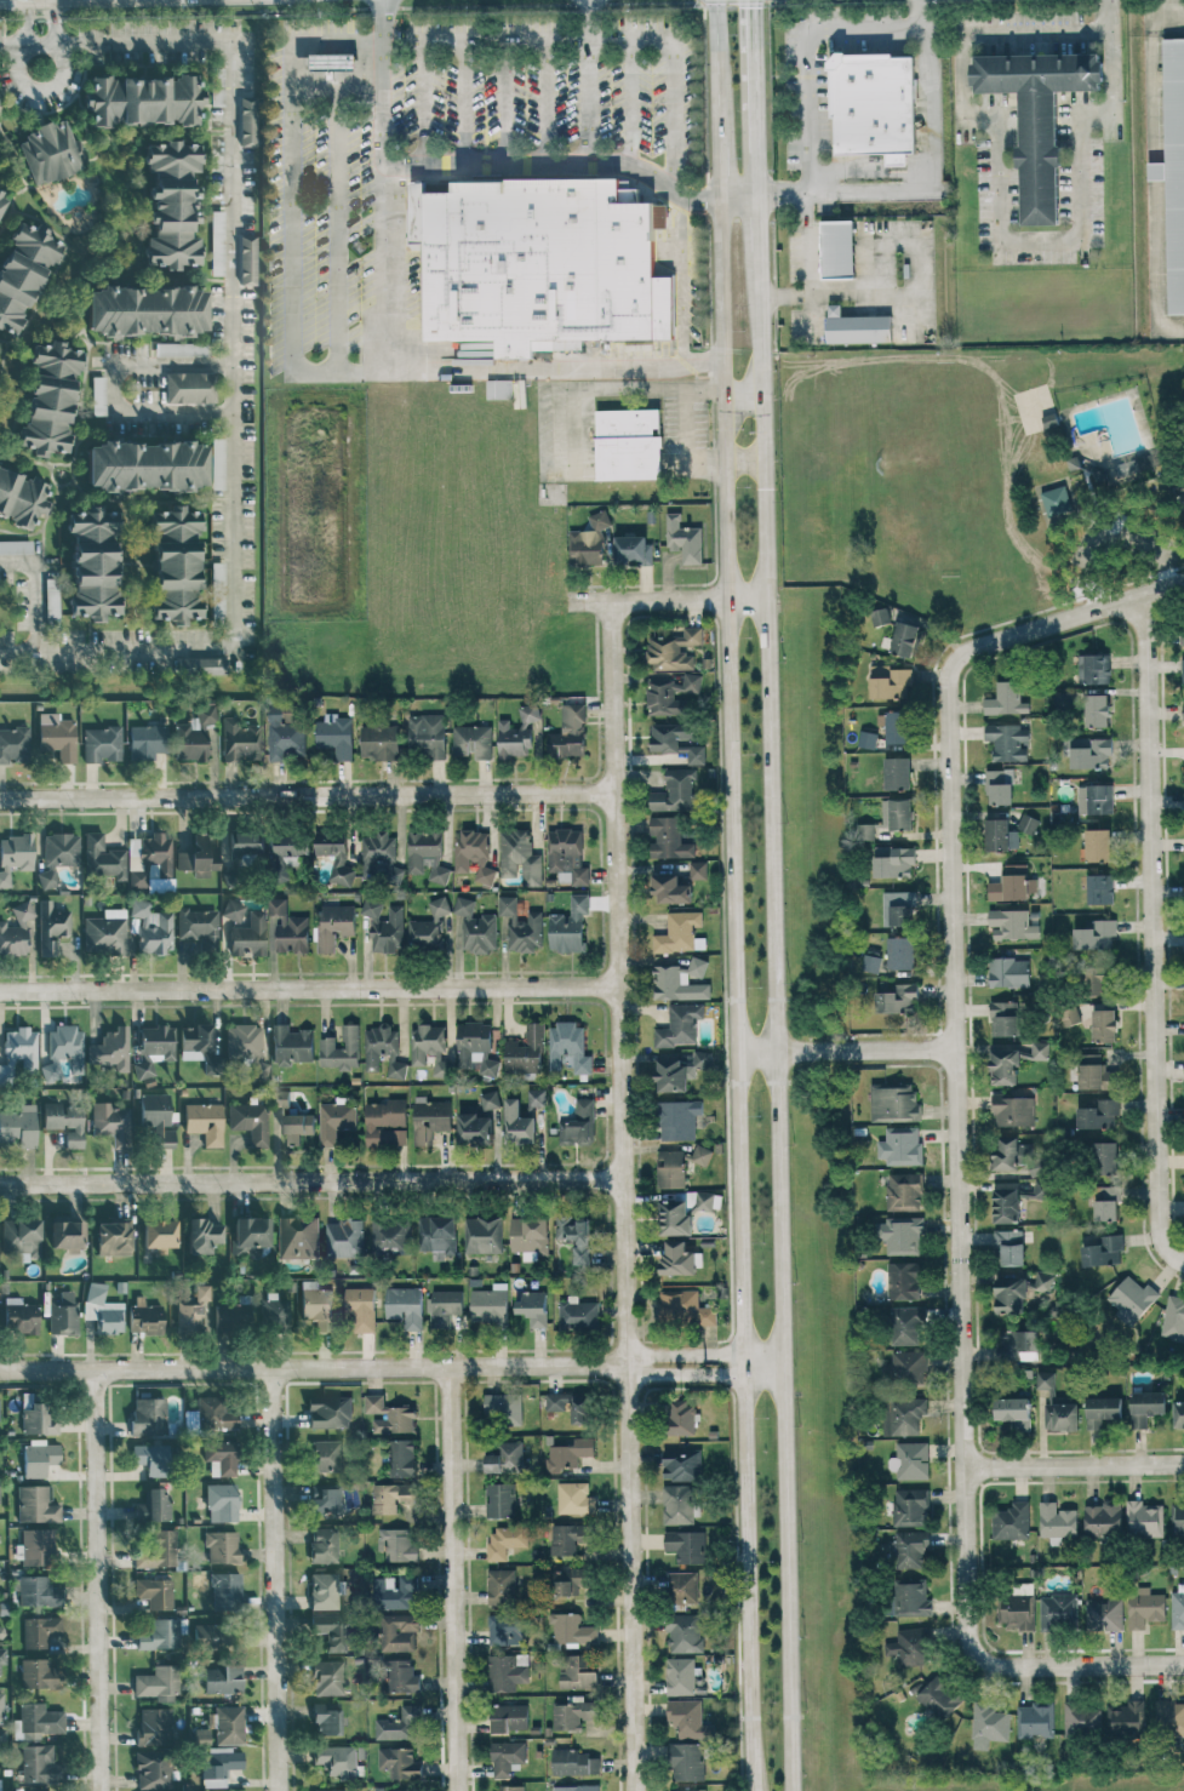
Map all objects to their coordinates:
road: (39, 2)
traffic signals: (751, 5)
road: (46, 8)
road: (32, 10)
road: (1108, 11)
road: (1168, 18)
road: (24, 29)
road: (55, 29)
road: (12, 45)
road: (808, 56)
building: (333, 61)
gas station: (333, 61)
road: (16, 62)
building: (1041, 73)
building: (218, 86)
road: (336, 90)
parking lot: (488, 90)
road: (753, 93)
building: (142, 99)
building: (876, 107)
building: (248, 120)
building: (50, 150)
building: (1042, 162)
road: (485, 167)
building: (1173, 170)
road: (927, 174)
road: (653, 185)
road: (737, 189)
building: (1, 196)
building: (172, 204)
road: (290, 218)
road: (754, 219)
road: (996, 223)
building: (217, 242)
building: (841, 250)
building: (247, 259)
road: (811, 264)
building: (514, 265)
building: (23, 270)
road: (837, 293)
building: (147, 310)
building: (858, 331)
building: (181, 349)
road: (457, 367)
road: (231, 374)
road: (114, 385)
building: (190, 387)
building: (499, 389)
building: (98, 395)
building: (50, 397)
road: (565, 429)
building: (630, 444)
building: (1151, 459)
building: (217, 463)
building: (145, 465)
building: (1103, 477)
building: (21, 497)
building: (1056, 499)
road: (1122, 528)
building: (683, 538)
building: (588, 542)
building: (16, 547)
building: (633, 549)
building: (93, 561)
building: (176, 565)
building: (218, 589)
road: (36, 590)
building: (51, 599)
road: (664, 600)
building: (881, 614)
road: (1068, 618)
building: (1182, 635)
building: (906, 639)
building: (673, 647)
building: (202, 665)
building: (1094, 668)
building: (1183, 676)
building: (690, 682)
building: (891, 683)
building: (664, 697)
building: (1006, 699)
building: (1063, 699)
building: (1097, 710)
building: (896, 726)
building: (285, 731)
building: (519, 732)
building: (570, 732)
building: (57, 734)
building: (194, 734)
building: (336, 734)
building: (427, 734)
building: (240, 739)
building: (677, 739)
building: (868, 739)
building: (471, 740)
building: (1008, 740)
building: (147, 742)
building: (379, 742)
building: (13, 744)
building: (102, 744)
building: (1091, 751)
building: (897, 772)
building: (1000, 786)
building: (675, 791)
building: (1183, 795)
road: (307, 796)
building: (1096, 799)
building: (897, 813)
building: (1028, 824)
building: (865, 830)
building: (1001, 835)
building: (668, 837)
building: (246, 842)
building: (291, 845)
building: (1098, 845)
building: (474, 853)
building: (15, 854)
building: (199, 854)
building: (427, 854)
building: (57, 856)
building: (519, 856)
building: (567, 856)
building: (103, 857)
building: (337, 862)
building: (894, 862)
building: (698, 869)
building: (229, 879)
building: (1011, 882)
building: (1100, 888)
building: (671, 889)
road: (731, 895)
building: (899, 908)
building: (233, 910)
building: (1012, 923)
building: (334, 925)
building: (384, 925)
building: (521, 925)
building: (570, 925)
building: (51, 926)
building: (199, 926)
building: (429, 926)
building: (151, 927)
building: (473, 927)
building: (287, 928)
building: (16, 931)
building: (105, 932)
building: (677, 932)
building: (250, 934)
building: (1096, 935)
road: (1150, 937)
building: (900, 951)
building: (1008, 972)
building: (680, 980)
building: (1100, 980)
road: (309, 989)
building: (898, 999)
building: (1071, 1014)
building: (1005, 1018)
road: (777, 1020)
building: (1104, 1024)
building: (680, 1025)
building: (245, 1038)
building: (292, 1045)
building: (199, 1046)
building: (430, 1047)
building: (568, 1047)
building: (154, 1048)
building: (341, 1048)
building: (475, 1048)
building: (110, 1049)
building: (383, 1049)
building: (1040, 1049)
building: (18, 1051)
building: (63, 1051)
building: (526, 1051)
road: (845, 1051)
building: (1005, 1065)
building: (679, 1069)
building: (1094, 1072)
building: (537, 1097)
building: (281, 1099)
building: (893, 1102)
building: (1013, 1110)
building: (1099, 1114)
building: (159, 1117)
building: (430, 1117)
building: (679, 1118)
building: (336, 1120)
building: (477, 1120)
building: (65, 1121)
building: (205, 1121)
building: (250, 1121)
building: (111, 1122)
building: (387, 1122)
building: (519, 1123)
building: (578, 1123)
building: (18, 1125)
building: (298, 1127)
building: (900, 1145)
building: (702, 1155)
building: (1019, 1156)
building: (1104, 1157)
road: (957, 1161)
building: (671, 1168)
road: (310, 1180)
building: (904, 1191)
road: (620, 1196)
building: (704, 1200)
building: (1012, 1202)
building: (1106, 1202)
building: (675, 1217)
building: (159, 1232)
building: (67, 1234)
building: (390, 1234)
building: (482, 1234)
building: (900, 1234)
building: (202, 1235)
building: (251, 1235)
building: (439, 1235)
building: (574, 1235)
building: (22, 1236)
building: (531, 1236)
building: (113, 1237)
building: (298, 1237)
building: (345, 1237)
building: (1009, 1246)
building: (1104, 1251)
building: (677, 1258)
building: (1042, 1278)
building: (904, 1280)
building: (96, 1292)
building: (202, 1292)
building: (1011, 1294)
building: (1131, 1298)
building: (405, 1305)
building: (488, 1305)
building: (444, 1306)
building: (532, 1306)
building: (361, 1308)
building: (683, 1308)
building: (63, 1314)
building: (275, 1314)
building: (578, 1314)
building: (145, 1316)
building: (190, 1316)
building: (233, 1316)
building: (22, 1318)
building: (1173, 1318)
building: (109, 1320)
building: (906, 1324)
building: (1012, 1340)
building: (908, 1366)
road: (389, 1367)
building: (1047, 1383)
building: (570, 1404)
building: (1146, 1406)
building: (503, 1407)
building: (1102, 1409)
building: (1013, 1411)
building: (330, 1412)
building: (215, 1413)
building: (389, 1414)
building: (904, 1414)
building: (1179, 1414)
building: (148, 1415)
building: (1060, 1415)
building: (681, 1418)
building: (570, 1453)
building: (326, 1455)
building: (221, 1457)
building: (402, 1457)
building: (40, 1458)
building: (151, 1458)
building: (505, 1458)
building: (910, 1460)
building: (682, 1463)
road: (1074, 1466)
building: (391, 1495)
building: (576, 1498)
building: (501, 1499)
building: (326, 1500)
building: (222, 1501)
building: (36, 1504)
building: (680, 1504)
building: (154, 1506)
building: (910, 1506)
building: (1178, 1517)
building: (1103, 1518)
building: (1144, 1518)
building: (1012, 1521)
building: (1057, 1521)
building: (568, 1537)
building: (505, 1540)
building: (324, 1544)
building: (397, 1544)
building: (686, 1545)
building: (38, 1546)
building: (222, 1546)
building: (910, 1547)
building: (156, 1549)
road: (274, 1579)
road: (452, 1579)
road: (99, 1580)
building: (568, 1580)
building: (501, 1586)
building: (683, 1586)
building: (227, 1590)
building: (326, 1590)
building: (38, 1591)
building: (155, 1591)
building: (914, 1598)
building: (1145, 1606)
building: (1177, 1609)
building: (1016, 1610)
building: (1058, 1610)
building: (1104, 1613)
building: (505, 1626)
building: (572, 1629)
building: (40, 1630)
building: (333, 1630)
building: (397, 1631)
building: (161, 1632)
building: (208, 1632)
building: (685, 1632)
building: (913, 1646)
building: (1, 1660)
road: (1080, 1666)
building: (508, 1671)
building: (579, 1671)
building: (40, 1673)
building: (681, 1675)
building: (402, 1676)
building: (327, 1677)
building: (223, 1680)
building: (158, 1683)
building: (939, 1696)
building: (1, 1707)
building: (573, 1713)
building: (1169, 1716)
building: (326, 1717)
building: (509, 1717)
building: (1125, 1717)
building: (690, 1718)
building: (1082, 1718)
building: (39, 1720)
building: (1035, 1720)
building: (400, 1723)
building: (229, 1724)
building: (989, 1724)
building: (154, 1726)
building: (2, 1738)
building: (507, 1756)
building: (336, 1761)
building: (687, 1761)
building: (399, 1762)
building: (574, 1762)
building: (40, 1764)
building: (219, 1764)
building: (153, 1769)
building: (511, 1787)
building: (576, 1787)
building: (41, 1790)
building: (331, 1790)
building: (402, 1790)
building: (688, 1790)

